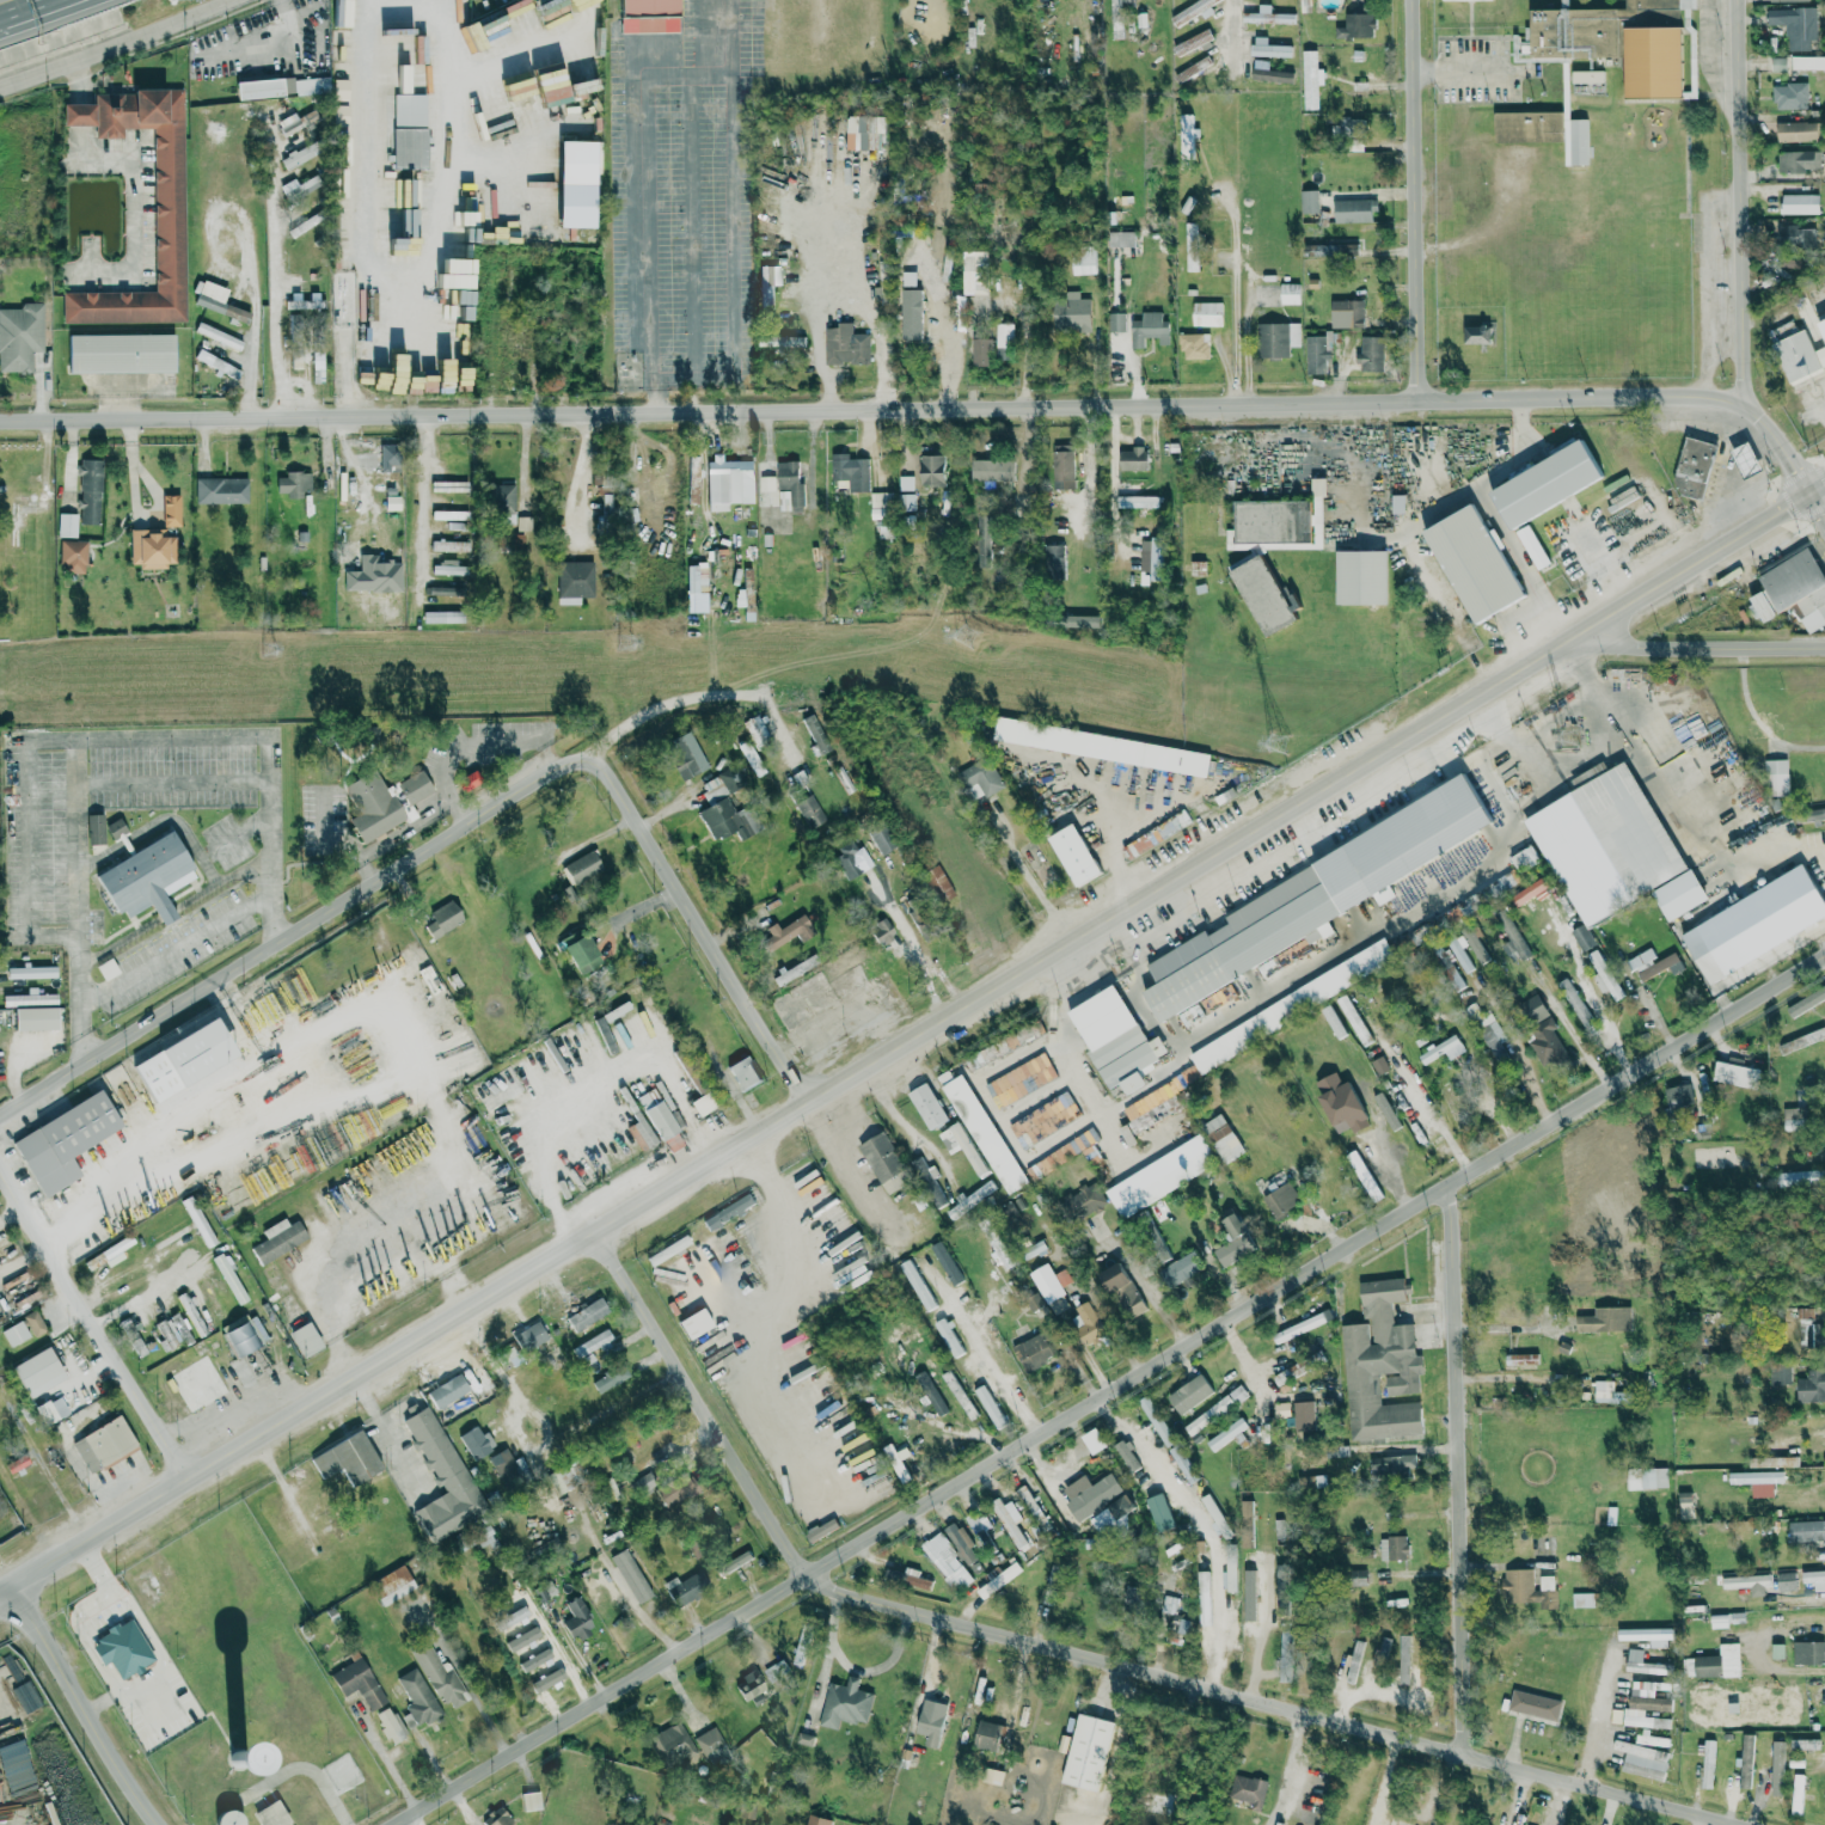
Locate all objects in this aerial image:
building: (1449, 0)
building: (1786, 0)
road: (384, 1)
building: (1304, 5)
building: (546, 7)
building: (1193, 11)
building: (1116, 12)
building: (343, 13)
road: (36, 14)
building: (647, 16)
building: (1267, 16)
building: (508, 24)
road: (1230, 24)
building: (1356, 25)
building: (1796, 25)
road: (716, 33)
building: (1615, 41)
building: (1192, 42)
road: (268, 44)
road: (117, 45)
building: (1268, 48)
building: (1334, 53)
building: (1807, 62)
building: (1777, 63)
road: (1469, 68)
building: (1192, 72)
building: (1269, 72)
building: (577, 74)
building: (1587, 76)
building: (1310, 79)
road: (80, 81)
building: (281, 87)
building: (408, 90)
building: (1789, 94)
road: (79, 115)
building: (1527, 125)
building: (1573, 130)
building: (1799, 130)
building: (865, 131)
building: (1187, 136)
building: (296, 155)
building: (1799, 160)
building: (577, 161)
building: (396, 191)
building: (1309, 201)
road: (1419, 202)
road: (134, 203)
building: (1799, 203)
road: (1746, 206)
building: (1352, 210)
building: (167, 214)
road: (694, 221)
building: (1795, 234)
building: (1121, 238)
building: (399, 245)
building: (1192, 246)
building: (1343, 249)
building: (342, 252)
building: (1083, 259)
road: (275, 268)
building: (974, 270)
building: (509, 281)
building: (767, 289)
building: (1288, 293)
building: (209, 295)
road: (1233, 296)
road: (433, 312)
building: (1071, 312)
building: (234, 313)
building: (1207, 313)
building: (1346, 313)
building: (1116, 319)
road: (255, 326)
building: (1821, 326)
building: (1149, 329)
building: (1477, 332)
building: (1004, 335)
building: (20, 336)
building: (218, 336)
building: (1276, 338)
building: (782, 341)
building: (514, 343)
building: (845, 344)
building: (1194, 345)
building: (931, 350)
building: (981, 351)
building: (1317, 351)
building: (121, 353)
building: (1002, 353)
building: (1371, 353)
building: (1798, 356)
building: (295, 360)
building: (216, 363)
road: (648, 375)
road: (938, 410)
building: (384, 457)
building: (1133, 458)
building: (1745, 459)
building: (1062, 466)
building: (1694, 467)
building: (931, 470)
building: (850, 471)
building: (992, 471)
road: (576, 477)
building: (693, 479)
building: (728, 482)
building: (905, 482)
building: (293, 483)
building: (767, 483)
building: (1545, 483)
building: (789, 486)
building: (1317, 486)
building: (220, 490)
building: (88, 491)
road: (1819, 491)
traffic signals: (1814, 495)
building: (22, 497)
road: (423, 498)
building: (1137, 501)
building: (502, 502)
building: (906, 502)
building: (881, 504)
building: (170, 510)
building: (18, 521)
building: (67, 525)
building: (1274, 525)
road: (1494, 525)
building: (882, 528)
building: (1532, 546)
building: (151, 549)
building: (72, 556)
building: (1155, 558)
building: (1053, 562)
building: (1474, 563)
building: (439, 569)
building: (373, 575)
building: (1360, 576)
building: (574, 581)
building: (696, 583)
building: (1794, 589)
building: (1258, 590)
building: (746, 592)
building: (441, 617)
building: (1079, 620)
road: (1513, 633)
power tower: (970, 637)
road: (1697, 641)
power tower: (626, 643)
power tower: (268, 650)
road: (740, 693)
building: (754, 728)
building: (816, 734)
road: (82, 742)
power tower: (1275, 743)
power tower: (1574, 743)
building: (1101, 746)
building: (685, 755)
building: (751, 758)
building: (1776, 777)
building: (980, 778)
building: (712, 789)
building: (382, 802)
building: (809, 810)
building: (1814, 814)
road: (1672, 817)
building: (723, 820)
building: (94, 828)
building: (115, 828)
building: (1156, 833)
building: (881, 839)
building: (1604, 841)
road: (75, 843)
building: (1073, 855)
building: (847, 859)
building: (1524, 859)
building: (580, 866)
building: (145, 878)
road: (1031, 881)
building: (935, 884)
building: (1530, 892)
building: (1679, 894)
building: (1480, 896)
building: (1312, 898)
road: (331, 904)
building: (442, 919)
road: (705, 919)
building: (1752, 930)
building: (786, 932)
building: (881, 932)
building: (1511, 937)
building: (1582, 938)
road: (914, 945)
building: (1460, 953)
building: (581, 954)
road: (164, 957)
building: (1649, 963)
building: (1446, 967)
building: (790, 972)
building: (30, 973)
building: (1604, 975)
building: (843, 978)
building: (29, 999)
building: (1574, 1002)
building: (1806, 1002)
building: (1532, 1009)
building: (33, 1018)
building: (1353, 1019)
building: (1487, 1028)
building: (1321, 1034)
building: (1114, 1039)
building: (1545, 1043)
road: (907, 1046)
building: (1443, 1049)
building: (180, 1060)
building: (742, 1073)
building: (1735, 1074)
road: (589, 1091)
building: (1679, 1095)
building: (1022, 1098)
building: (1340, 1103)
building: (1383, 1103)
building: (926, 1106)
building: (1795, 1115)
building: (662, 1123)
building: (982, 1132)
building: (1221, 1138)
building: (62, 1141)
building: (961, 1146)
building: (1055, 1157)
road: (850, 1160)
building: (883, 1162)
building: (1362, 1175)
building: (1802, 1178)
road: (766, 1180)
building: (926, 1182)
building: (1160, 1184)
building: (1280, 1198)
building: (1080, 1199)
building: (727, 1211)
building: (276, 1241)
building: (1233, 1241)
building: (945, 1262)
building: (1178, 1269)
building: (1049, 1282)
building: (917, 1285)
road: (1150, 1291)
building: (1120, 1292)
building: (218, 1309)
building: (586, 1313)
building: (1604, 1321)
road: (97, 1322)
building: (693, 1323)
building: (1086, 1323)
building: (23, 1329)
building: (1809, 1329)
building: (245, 1336)
building: (528, 1336)
building: (948, 1336)
building: (304, 1340)
building: (590, 1346)
building: (1563, 1348)
building: (1033, 1352)
road: (987, 1358)
building: (1521, 1359)
building: (1380, 1365)
building: (37, 1372)
building: (1780, 1372)
building: (610, 1377)
building: (1812, 1386)
building: (446, 1391)
building: (1604, 1391)
road: (1115, 1392)
building: (930, 1394)
building: (1189, 1394)
building: (1237, 1394)
building: (959, 1395)
building: (988, 1406)
building: (1281, 1409)
building: (1208, 1415)
building: (1303, 1416)
road: (553, 1429)
building: (1226, 1433)
road: (387, 1437)
building: (474, 1443)
building: (103, 1444)
road: (87, 1452)
building: (1127, 1460)
building: (344, 1463)
building: (502, 1463)
building: (1183, 1464)
building: (1392, 1465)
road: (1462, 1469)
building: (1647, 1478)
building: (441, 1480)
building: (1758, 1481)
building: (1307, 1482)
building: (642, 1483)
building: (678, 1490)
building: (1097, 1501)
building: (1685, 1504)
building: (1159, 1513)
building: (1011, 1523)
building: (1247, 1523)
road: (1201, 1525)
building: (1807, 1531)
building: (961, 1543)
building: (1392, 1548)
building: (945, 1562)
building: (728, 1564)
building: (1201, 1574)
building: (630, 1576)
building: (1356, 1576)
building: (907, 1579)
building: (999, 1579)
building: (1814, 1579)
building: (1786, 1581)
building: (1231, 1582)
building: (1747, 1582)
building: (392, 1586)
building: (685, 1588)
building: (1527, 1588)
building: (543, 1594)
building: (1582, 1599)
building: (397, 1619)
building: (577, 1621)
building: (1719, 1621)
building: (1204, 1623)
road: (1262, 1627)
building: (1230, 1631)
building: (516, 1633)
road: (148, 1636)
building: (1651, 1636)
road: (552, 1639)
building: (1285, 1646)
building: (121, 1649)
road: (1086, 1652)
building: (1777, 1652)
building: (1808, 1653)
building: (1378, 1656)
building: (1404, 1659)
building: (1714, 1662)
building: (1642, 1664)
building: (357, 1683)
building: (748, 1685)
building: (448, 1689)
building: (416, 1700)
building: (845, 1703)
road: (92, 1704)
building: (1535, 1704)
building: (1646, 1705)
road: (1598, 1713)
building: (930, 1721)
building: (387, 1725)
building: (986, 1735)
building: (804, 1739)
building: (1651, 1739)
building: (708, 1740)
building: (1803, 1744)
building: (672, 1746)
building: (215, 1749)
building: (1088, 1752)
building: (1643, 1760)
building: (1746, 1760)
road: (1292, 1763)
building: (1707, 1765)
building: (1777, 1768)
road: (394, 1771)
road: (305, 1775)
building: (992, 1776)
building: (1247, 1789)
building: (1798, 1794)
building: (531, 1800)
road: (1560, 1800)
building: (1157, 1801)
building: (270, 1814)
building: (227, 1818)
road: (1696, 1818)
building: (500, 1819)
building: (817, 1820)
building: (1471, 1824)

